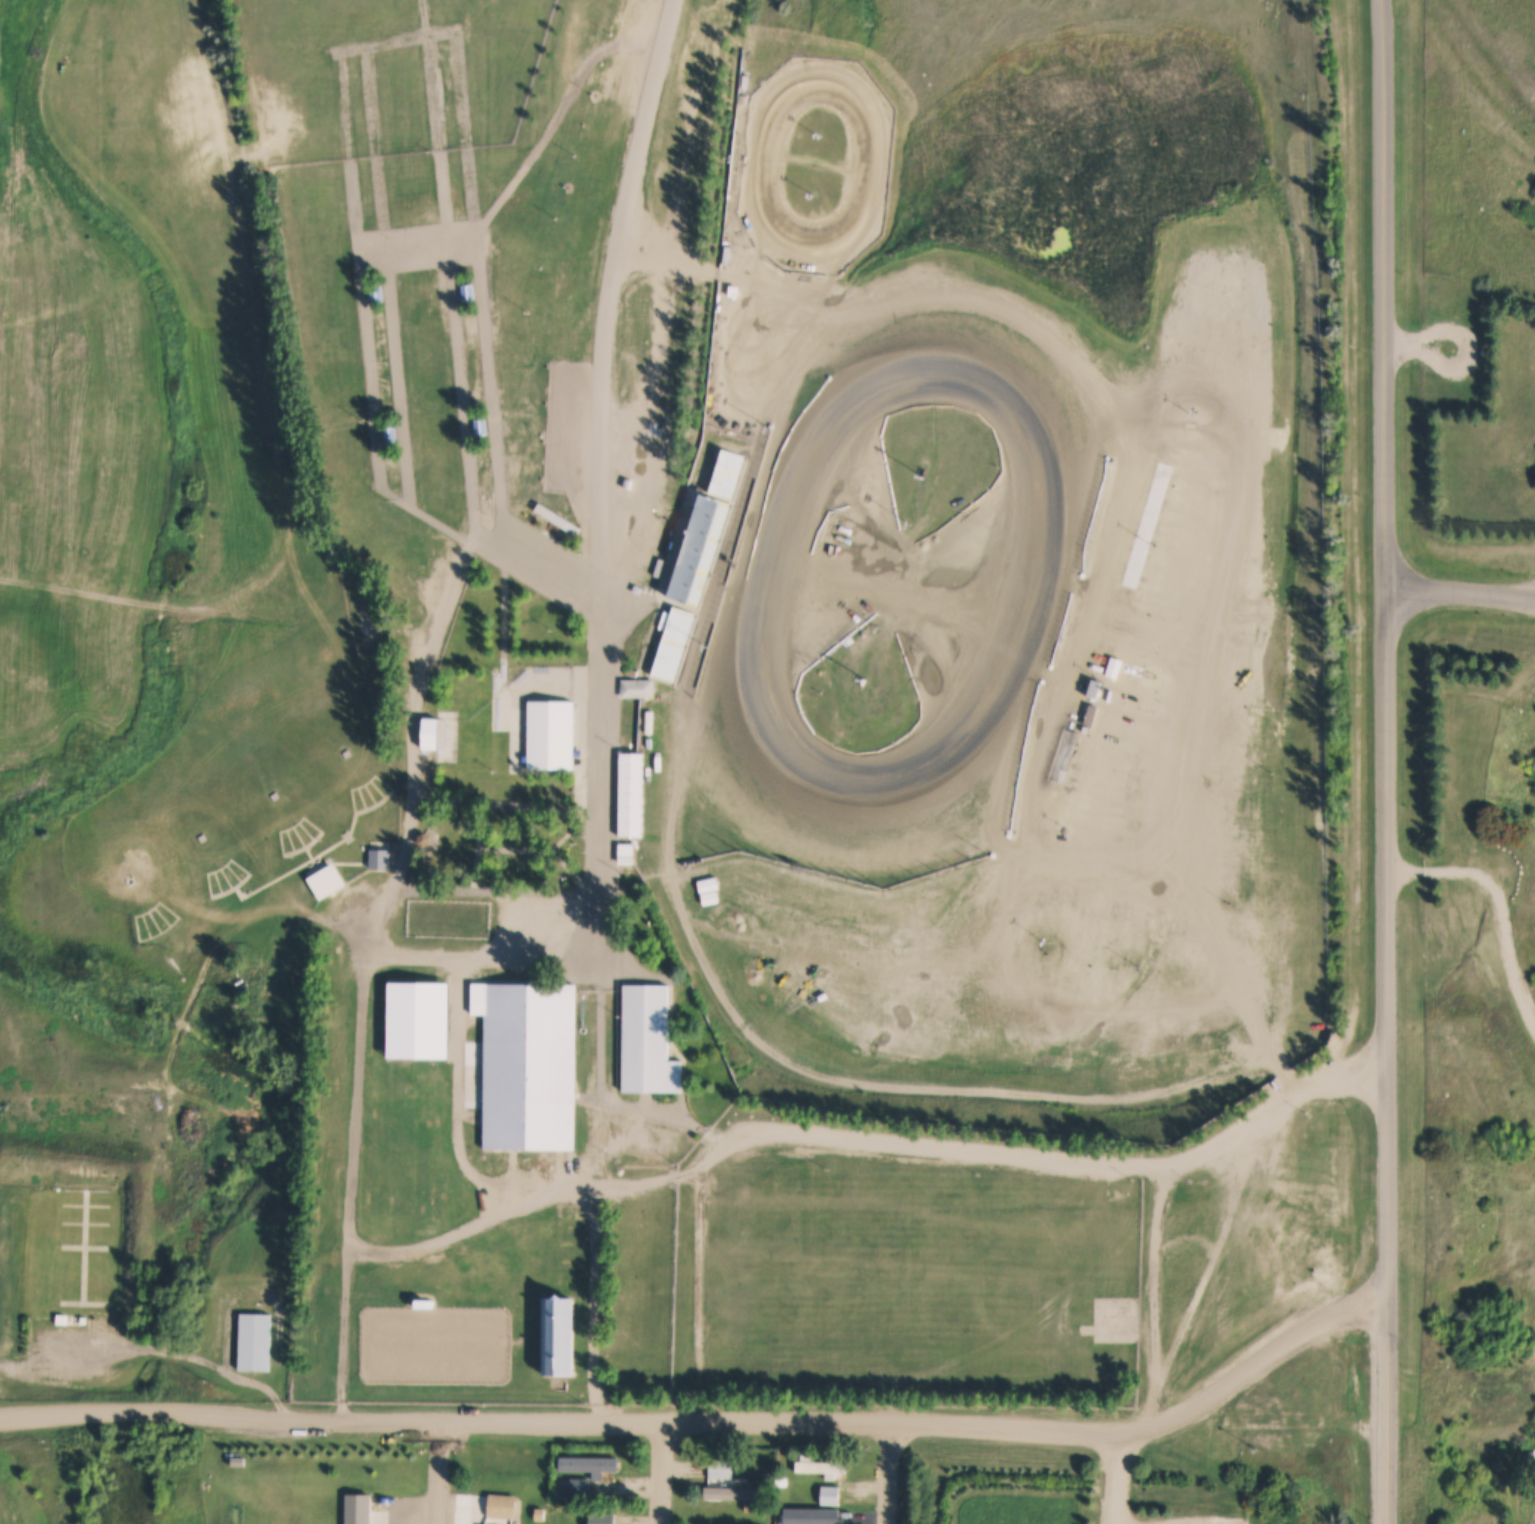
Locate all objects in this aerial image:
raceway: (854, 165)
road: (717, 274)
road: (614, 292)
building: (467, 293)
building: (375, 294)
road: (1466, 332)
building: (479, 427)
building: (655, 429)
building: (389, 435)
building: (555, 520)
building: (705, 530)
raceway: (1009, 571)
road: (1461, 589)
road: (210, 611)
building: (671, 643)
building: (1091, 688)
building: (636, 689)
road: (416, 713)
building: (430, 733)
building: (551, 735)
building: (344, 754)
road: (1388, 761)
road: (597, 789)
building: (630, 795)
building: (273, 796)
park: (229, 824)
building: (201, 838)
building: (422, 839)
building: (625, 853)
building: (378, 859)
parking lot: (1494, 866)
building: (326, 881)
building: (129, 882)
road: (1501, 901)
building: (648, 1041)
building: (527, 1064)
road: (953, 1091)
road: (598, 1094)
road: (598, 1145)
road: (339, 1147)
road: (1052, 1156)
building: (408, 1294)
road: (1151, 1295)
road: (700, 1296)
road: (595, 1308)
building: (67, 1319)
road: (344, 1334)
building: (559, 1337)
building: (254, 1342)
road: (154, 1354)
road: (711, 1426)
building: (588, 1465)
building: (819, 1466)
building: (718, 1468)
building: (1531, 1469)
road: (440, 1474)
building: (768, 1474)
road: (658, 1475)
road: (887, 1477)
road: (1114, 1480)
building: (779, 1481)
building: (578, 1488)
building: (733, 1492)
building: (828, 1495)
building: (561, 1497)
building: (1529, 1501)
building: (1518, 1503)
building: (500, 1506)
building: (357, 1508)
building: (557, 1508)
building: (539, 1514)
building: (825, 1515)
building: (602, 1518)
building: (515, 1523)

